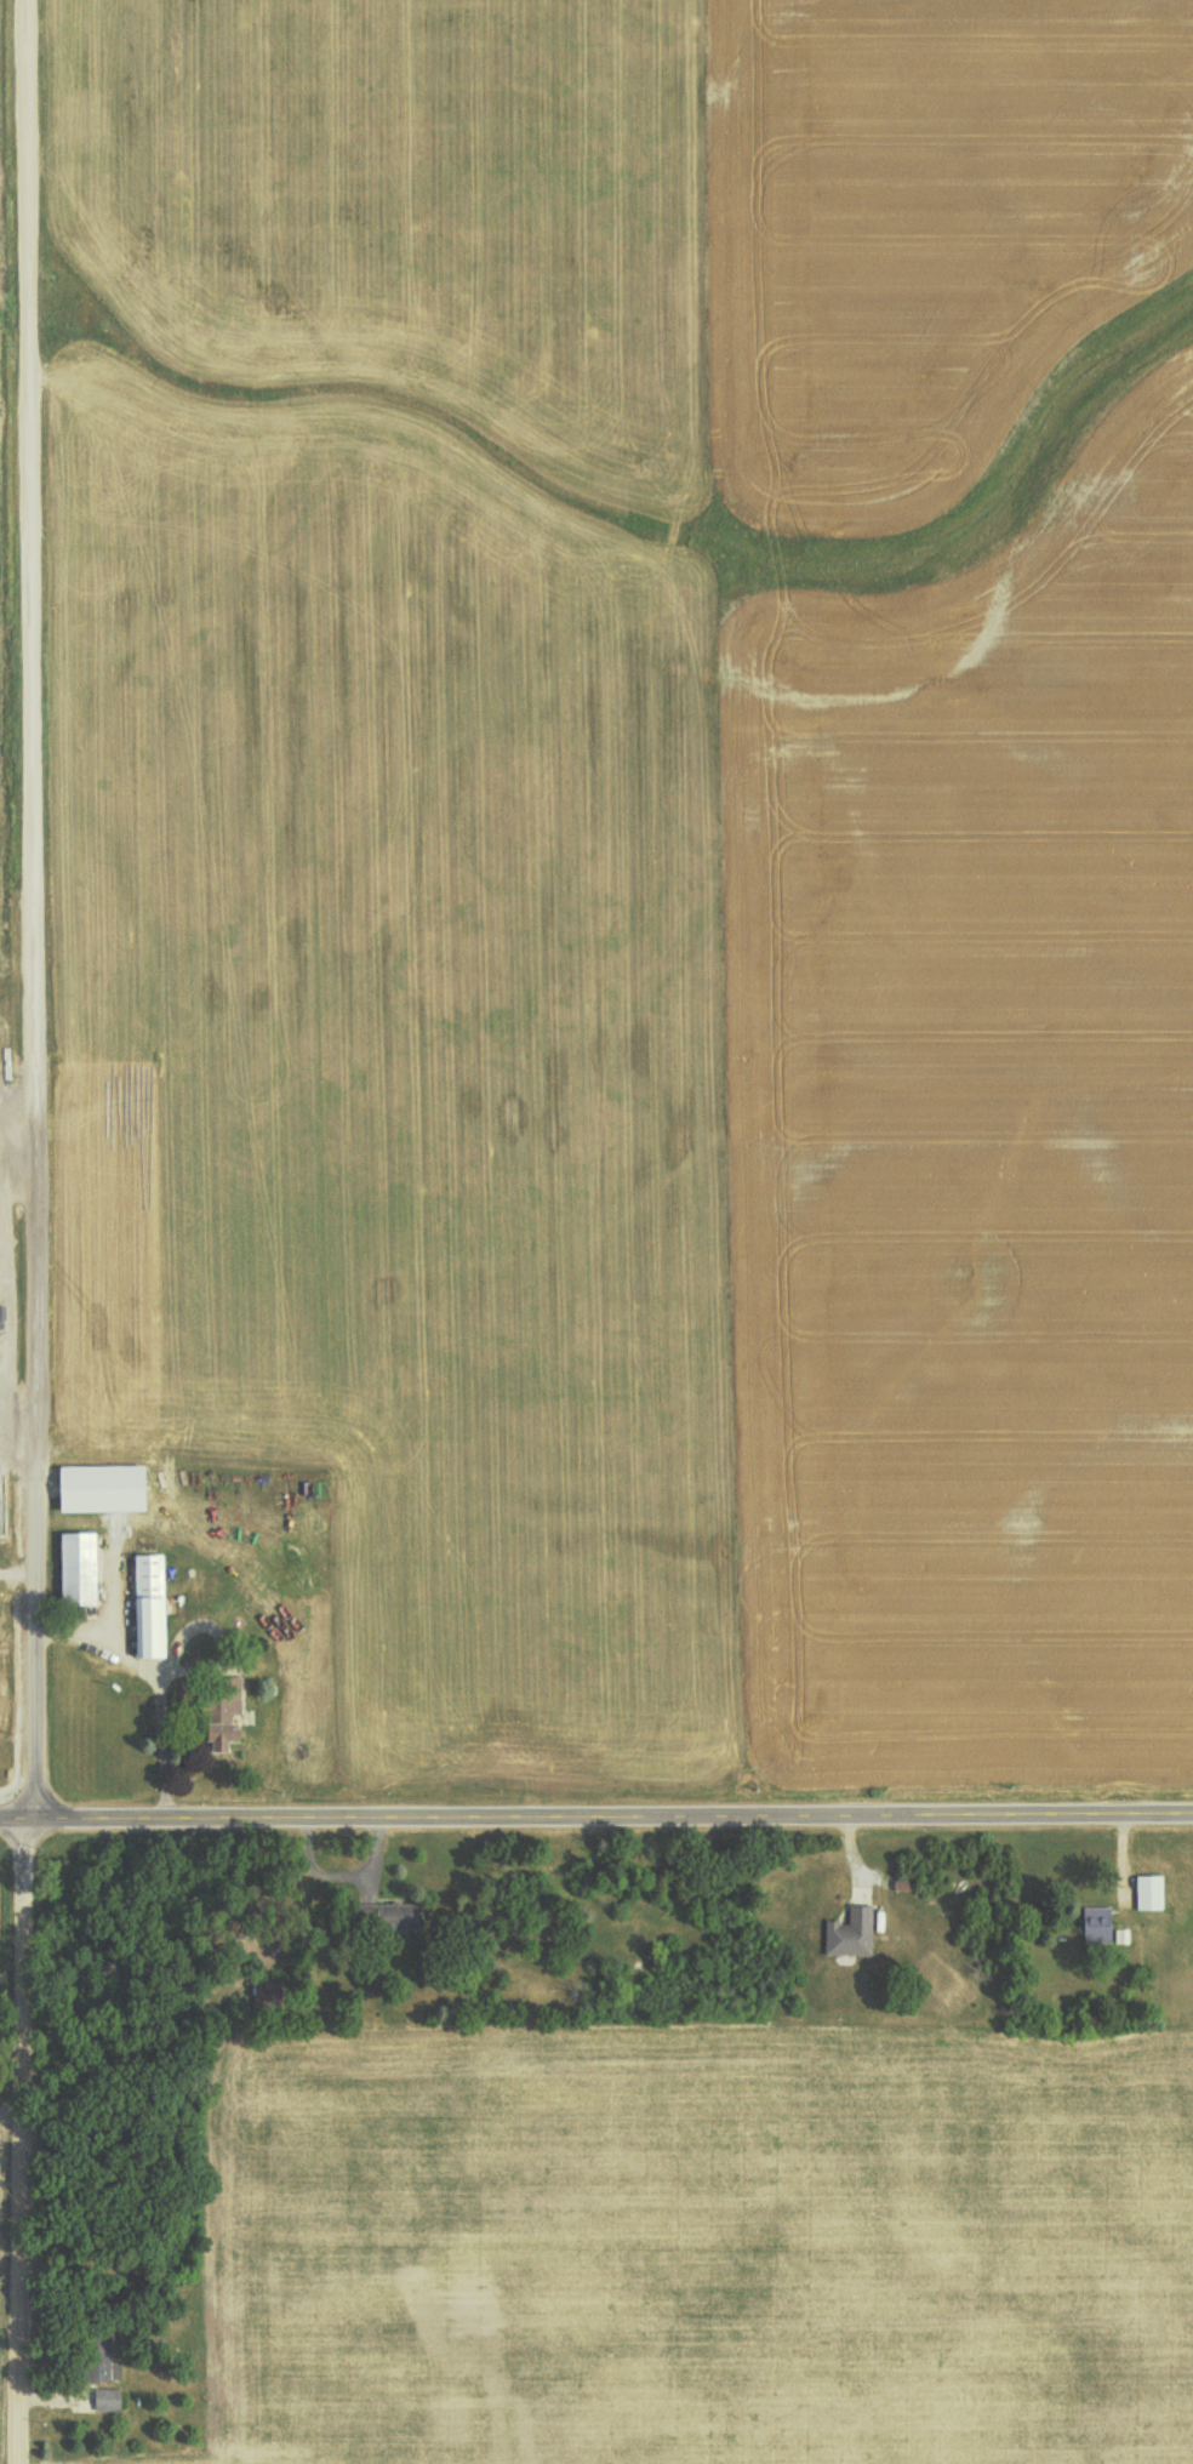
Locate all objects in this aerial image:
road: (28, 490)
road: (33, 1441)
building: (76, 1567)
building: (147, 1604)
road: (596, 1815)
building: (1148, 1892)
building: (403, 1917)
building: (1096, 1920)
building: (850, 1932)
building: (1120, 1934)
road: (19, 2183)
building: (107, 2399)

